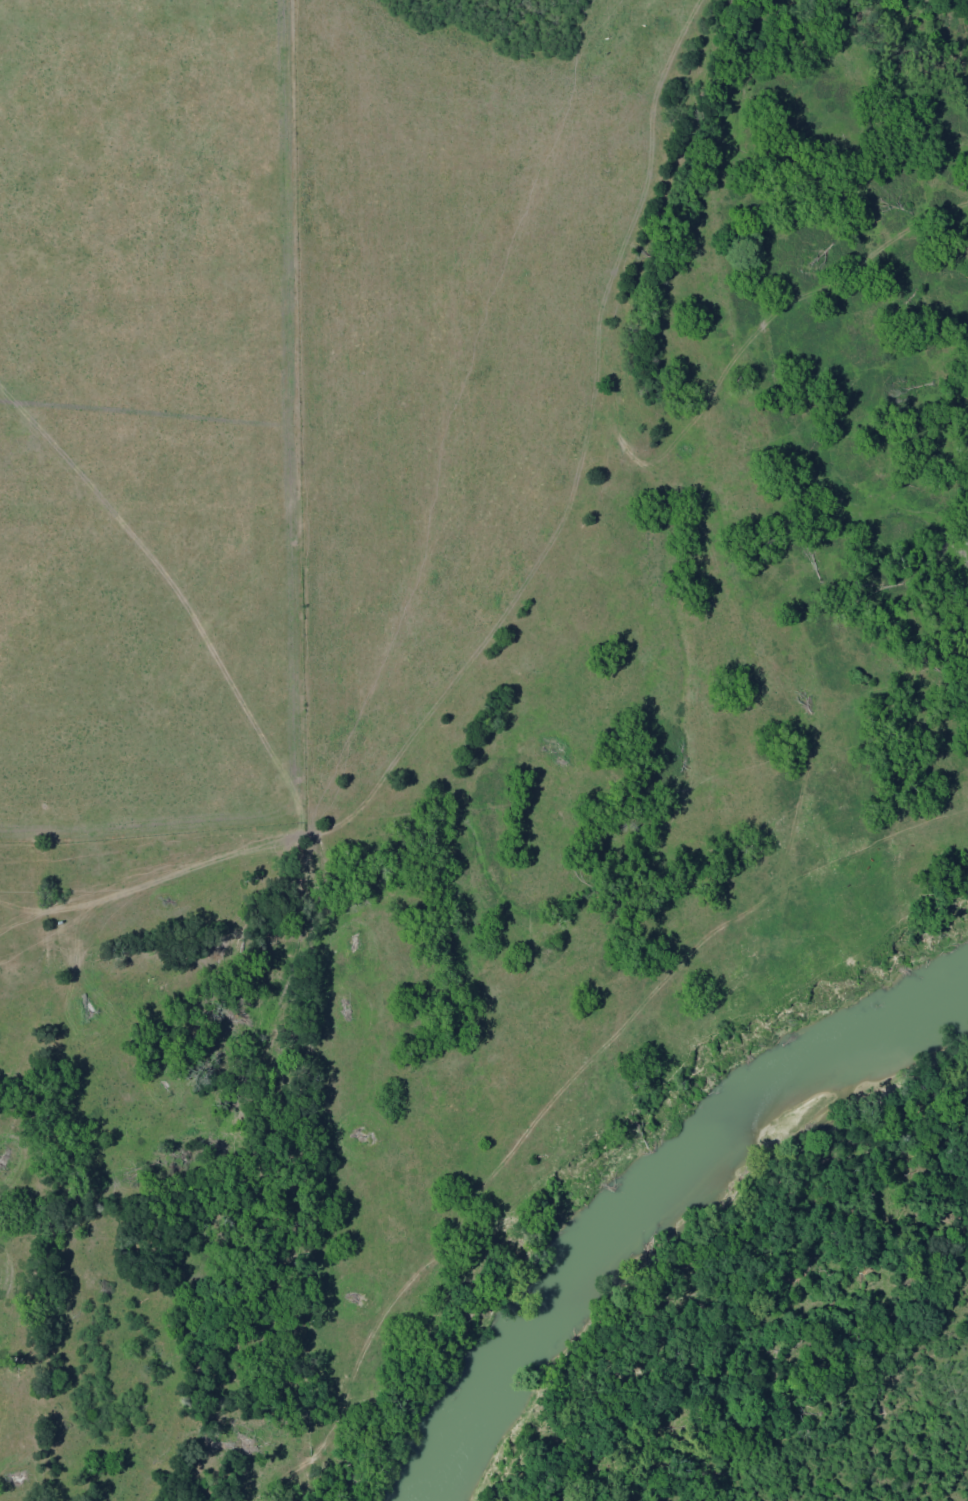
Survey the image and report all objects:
road: (587, 1120)
river: (641, 1187)

